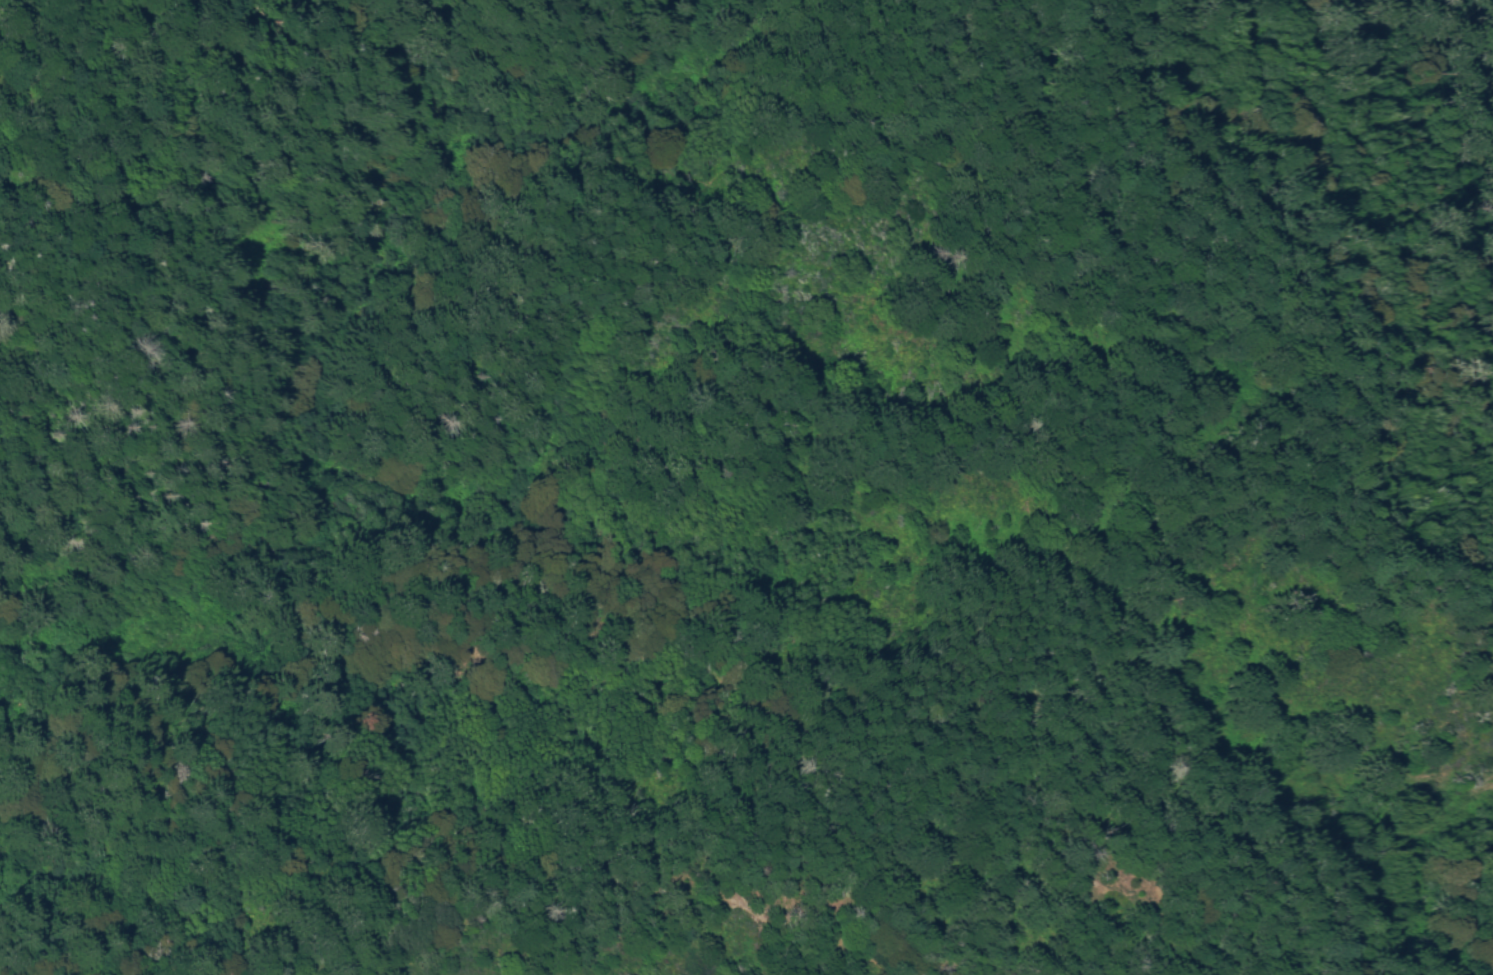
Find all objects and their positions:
road: (1149, 484)

